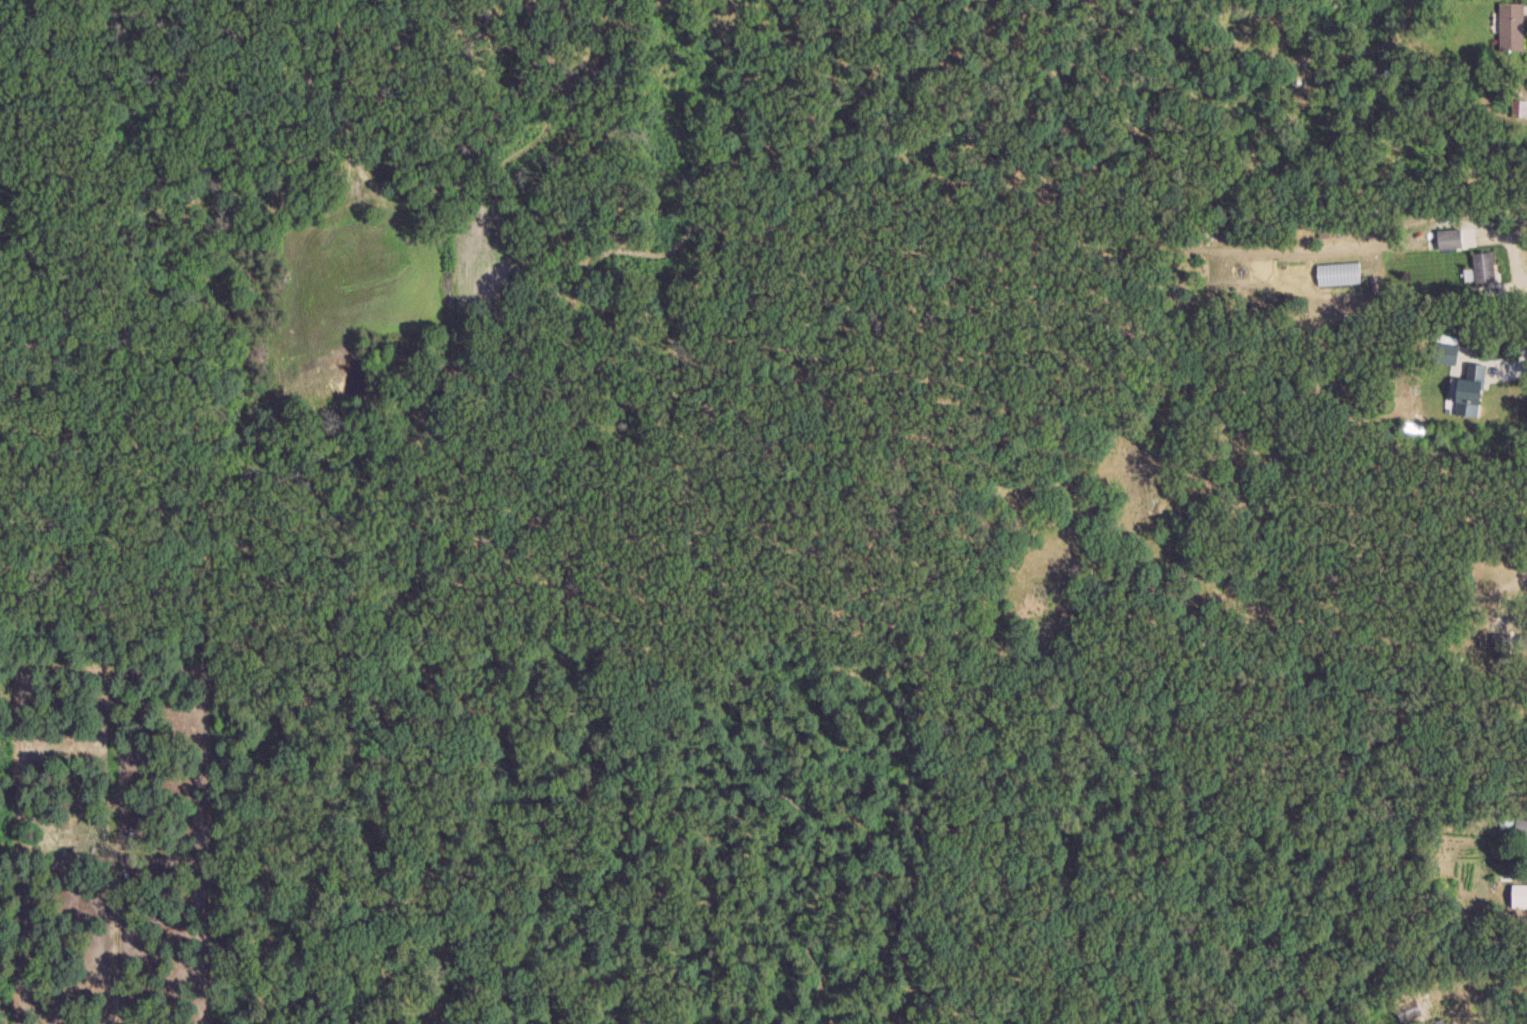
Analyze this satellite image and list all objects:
building: (1512, 27)
building: (1451, 239)
road: (1514, 252)
building: (1484, 267)
building: (1446, 354)
road: (1517, 370)
building: (1472, 391)
road: (1512, 597)
building: (1510, 644)
building: (1516, 823)
building: (1411, 1014)
building: (1442, 1022)

